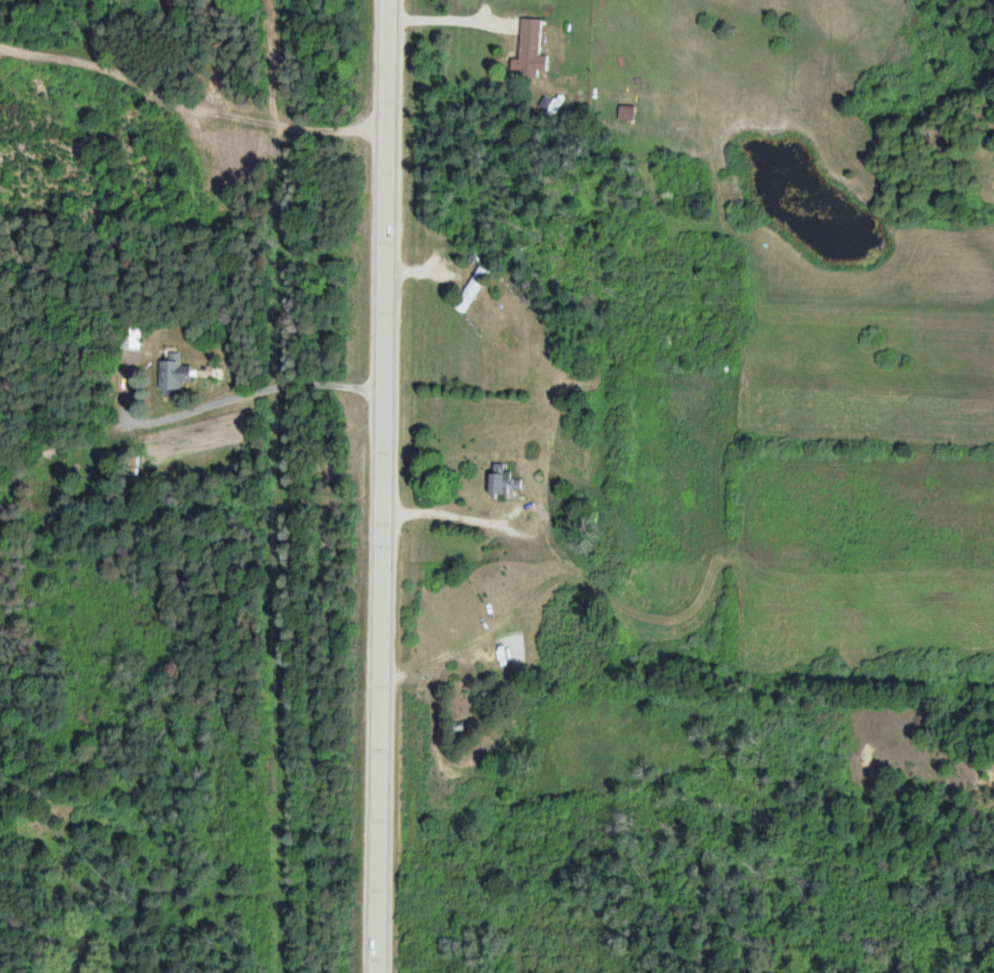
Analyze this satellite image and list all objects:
building: (528, 48)
building: (470, 290)
building: (134, 339)
building: (174, 376)
road: (186, 393)
building: (498, 479)
road: (382, 486)

